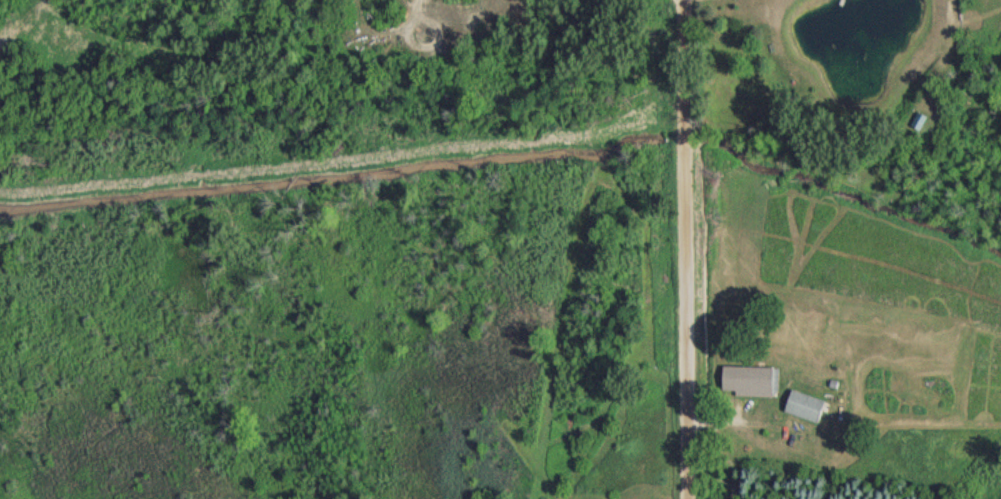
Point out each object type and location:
building: (914, 127)
road: (685, 249)
building: (746, 385)
building: (800, 411)

